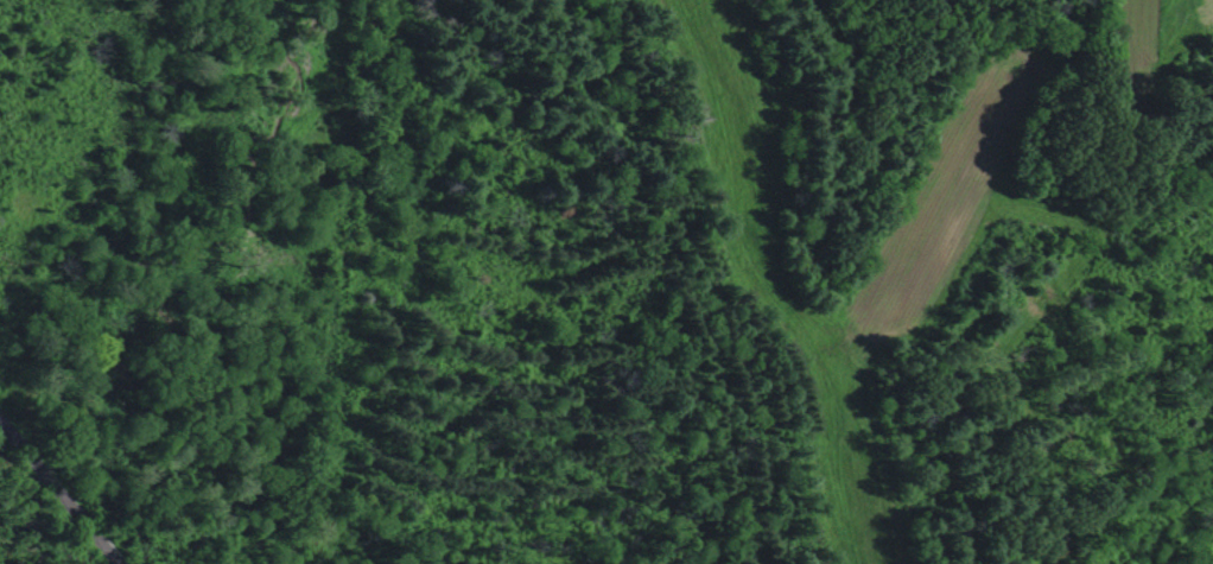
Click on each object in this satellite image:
road: (57, 494)

